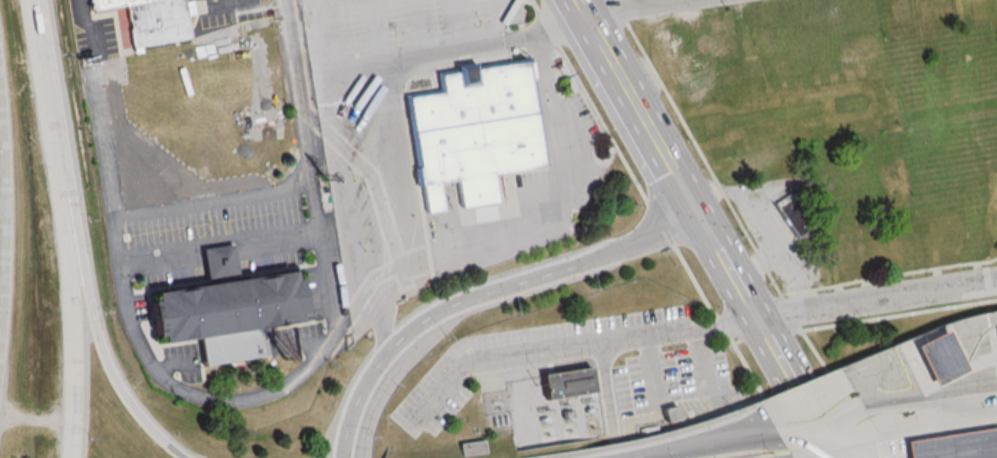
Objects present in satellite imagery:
road: (691, 1)
road: (640, 5)
road: (650, 9)
building: (155, 20)
building: (996, 38)
building: (705, 64)
road: (640, 108)
road: (55, 116)
building: (472, 130)
road: (5, 187)
traffic signals: (702, 217)
road: (484, 292)
road: (878, 299)
road: (1, 307)
building: (231, 308)
building: (993, 323)
road: (770, 337)
road: (964, 348)
road: (106, 357)
road: (965, 357)
road: (965, 364)
road: (965, 371)
road: (965, 377)
building: (563, 383)
road: (965, 383)
road: (965, 390)
road: (897, 393)
road: (965, 396)
road: (233, 401)
road: (817, 422)
road: (805, 441)
road: (689, 445)
building: (952, 445)

